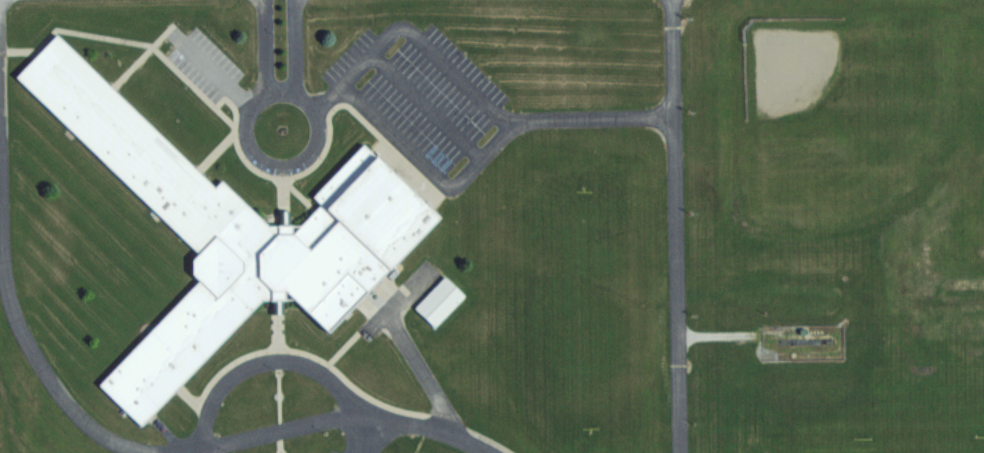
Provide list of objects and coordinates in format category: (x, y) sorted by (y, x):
road: (156, 33)
road: (379, 38)
road: (257, 47)
road: (290, 48)
road: (15, 51)
road: (127, 66)
road: (208, 70)
road: (224, 104)
road: (418, 105)
park: (844, 112)
road: (211, 149)
road: (241, 162)
road: (420, 169)
road: (292, 195)
road: (277, 202)
road: (669, 226)
building: (224, 234)
road: (380, 289)
building: (435, 302)
park: (569, 313)
road: (371, 322)
road: (270, 328)
road: (710, 337)
road: (341, 347)
road: (401, 349)
road: (301, 354)
road: (265, 361)
road: (47, 386)
road: (271, 401)
road: (320, 419)
road: (359, 435)
road: (473, 436)
road: (190, 450)
road: (192, 450)
road: (275, 450)

